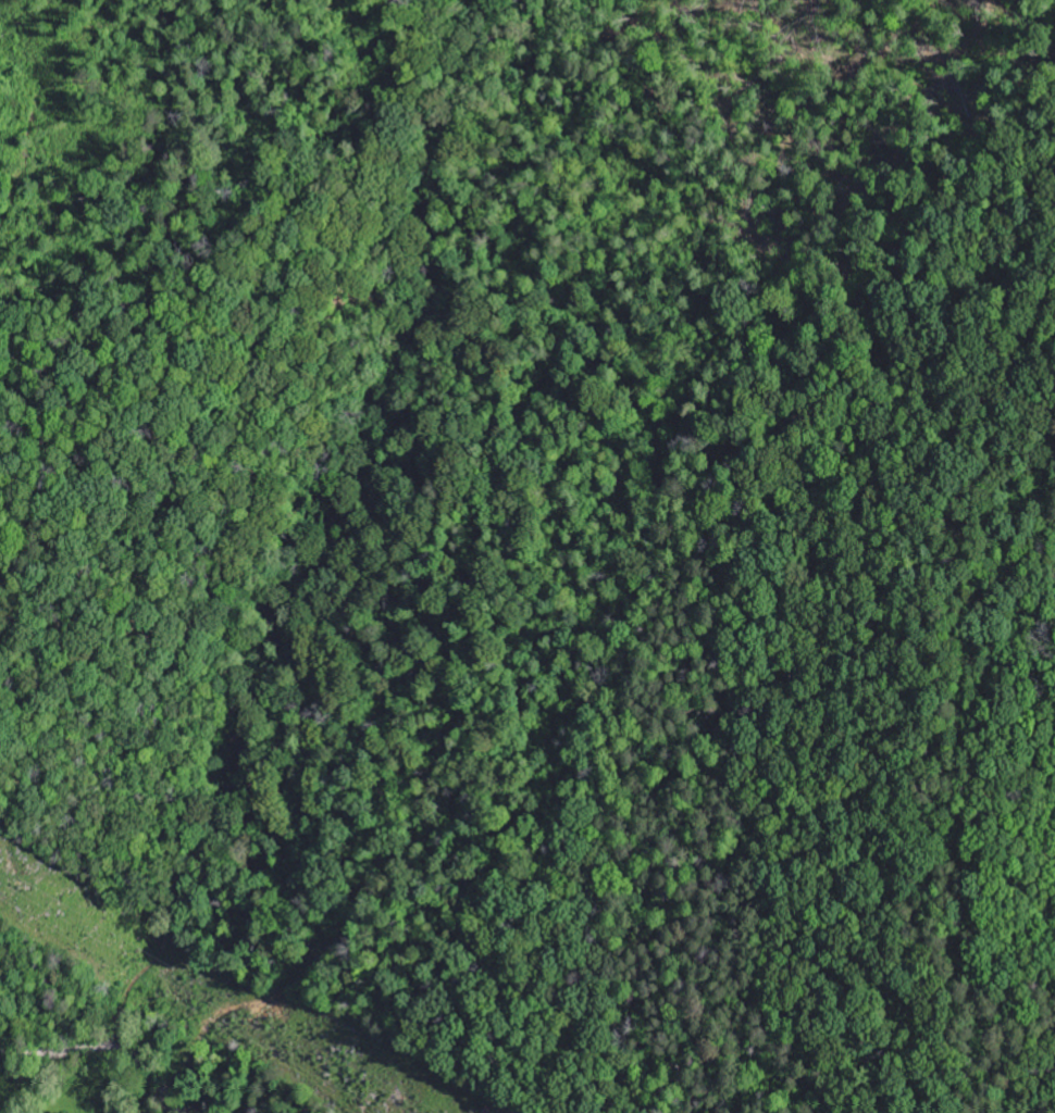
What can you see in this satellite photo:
road: (104, 1047)

